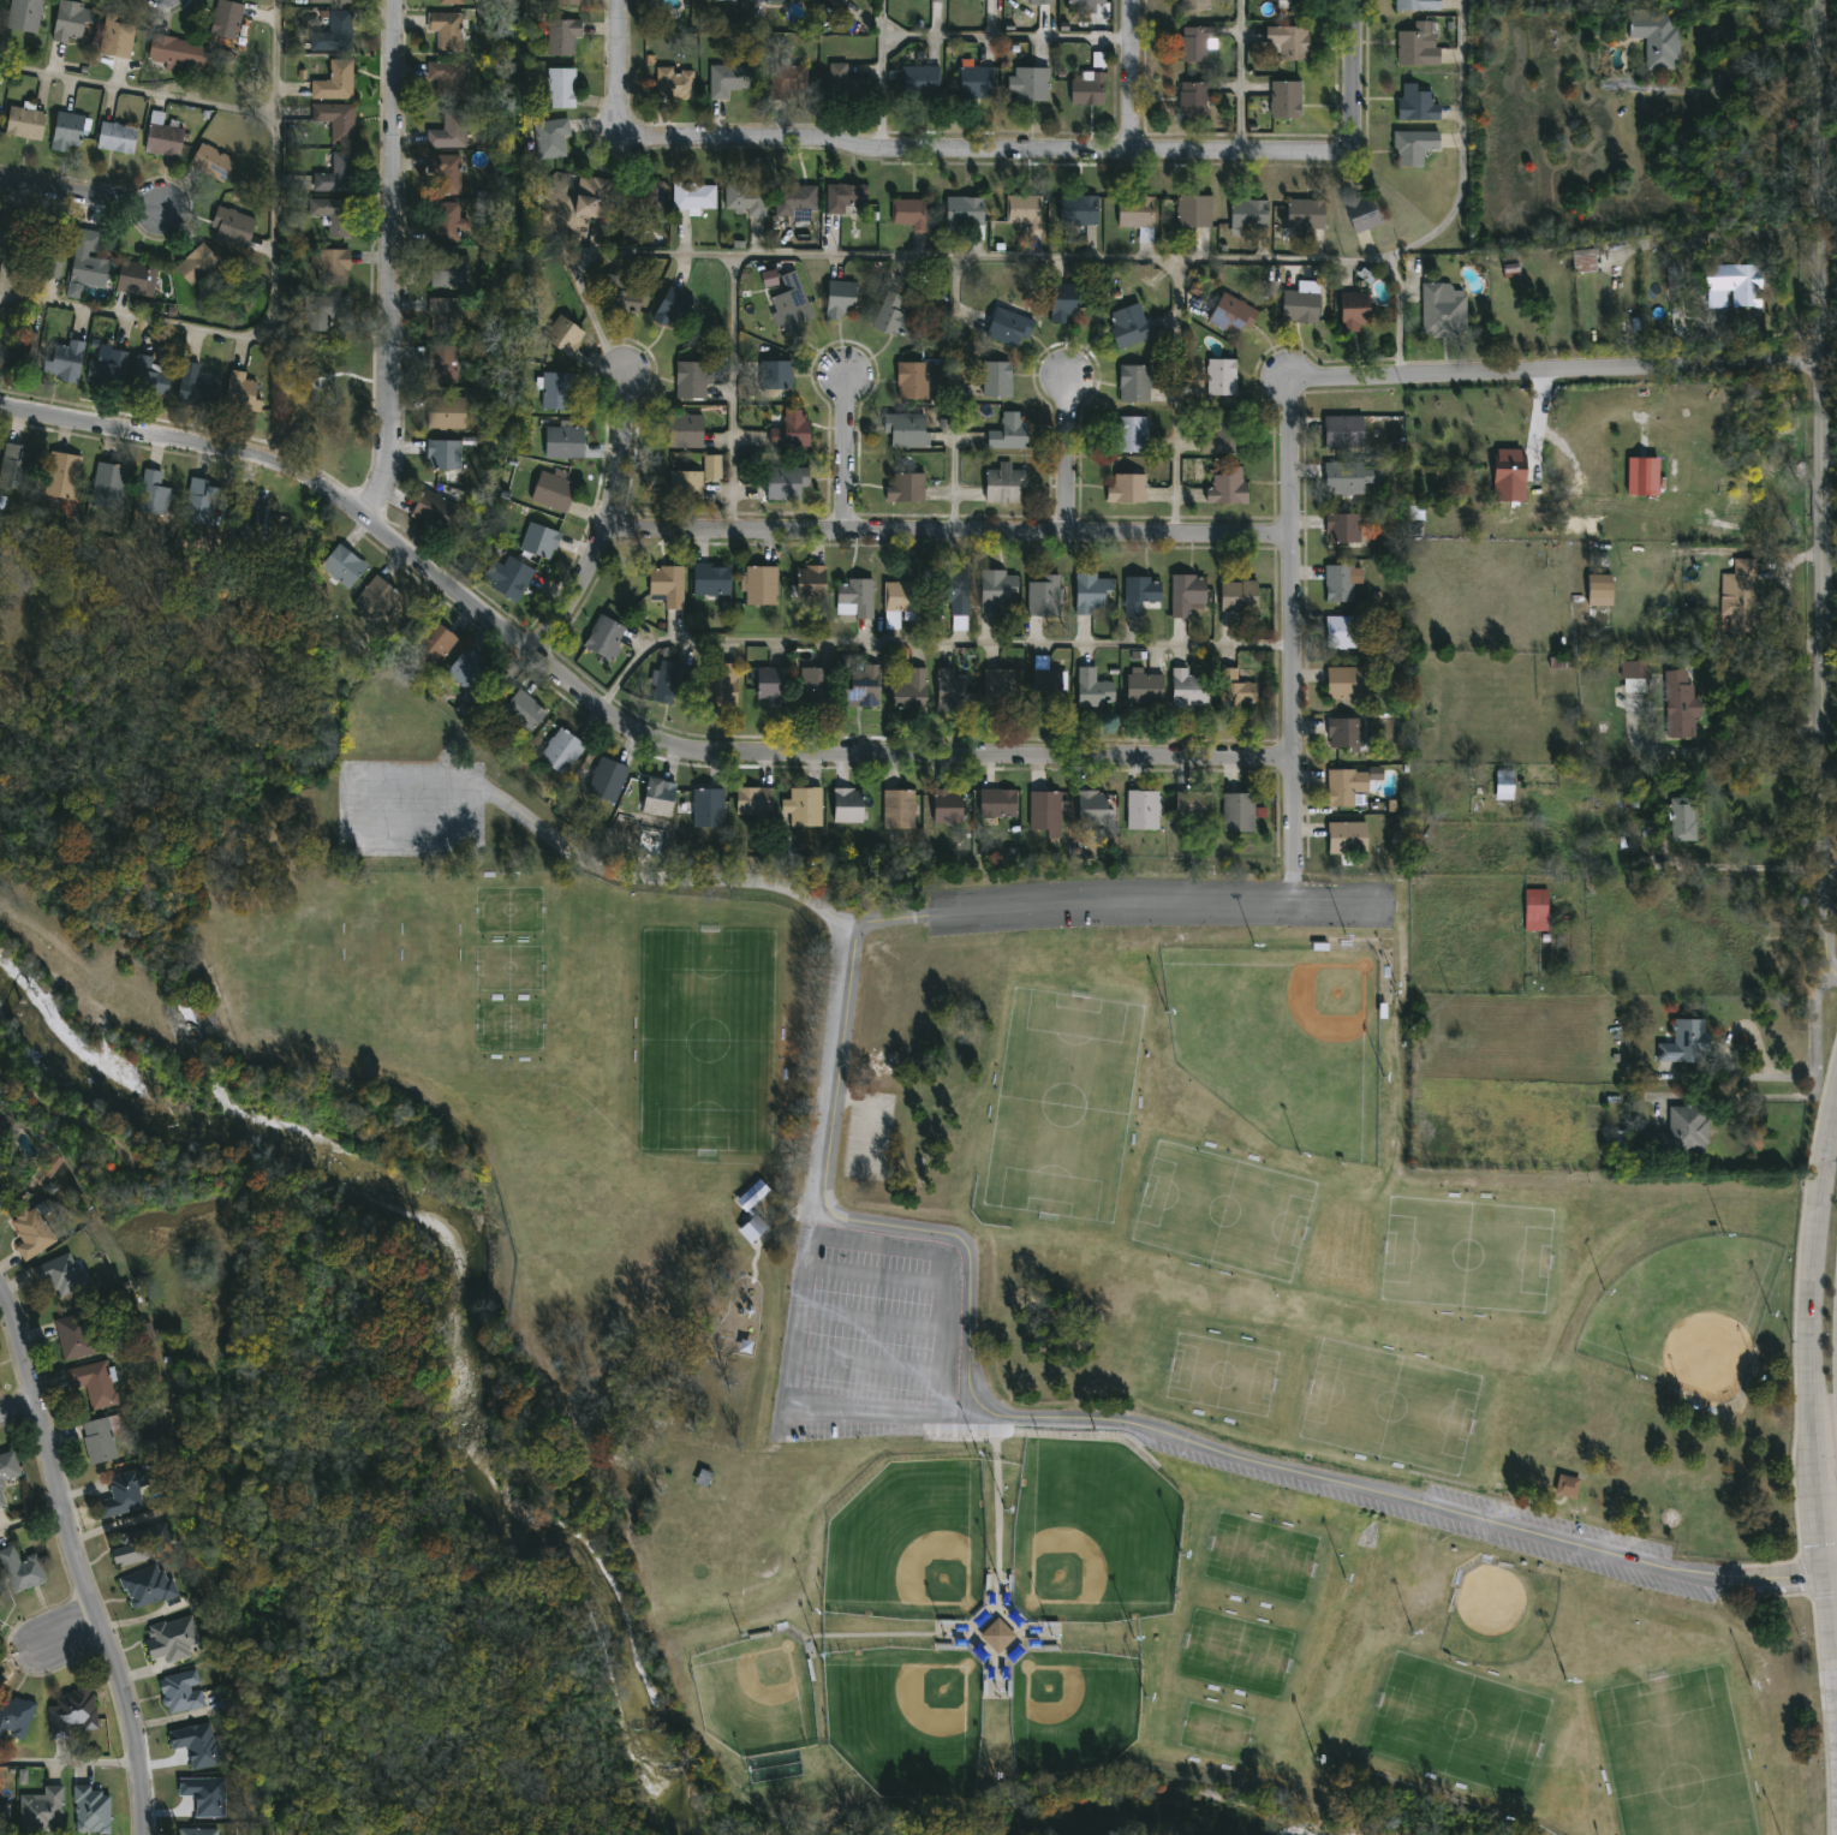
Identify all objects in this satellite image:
building: (328, 0)
building: (1086, 0)
building: (1283, 0)
building: (449, 1)
building: (568, 1)
building: (762, 1)
building: (936, 1)
building: (1037, 1)
building: (835, 2)
building: (1194, 5)
building: (1416, 5)
building: (23, 14)
building: (226, 18)
building: (73, 22)
building: (446, 30)
building: (334, 32)
building: (119, 35)
building: (562, 36)
road: (1004, 37)
building: (1656, 37)
building: (1288, 40)
building: (1194, 41)
building: (1416, 44)
building: (178, 50)
road: (273, 55)
road: (620, 55)
road: (1355, 72)
road: (1726, 72)
building: (447, 77)
building: (788, 77)
road: (1129, 77)
building: (727, 78)
building: (920, 78)
road: (881, 79)
road: (1240, 79)
building: (334, 81)
building: (675, 81)
building: (976, 81)
building: (843, 82)
building: (1028, 82)
building: (560, 85)
building: (1087, 87)
building: (1286, 97)
building: (1193, 99)
building: (1415, 102)
building: (336, 119)
building: (24, 121)
building: (448, 130)
building: (67, 131)
building: (117, 136)
building: (553, 137)
building: (163, 138)
building: (1412, 144)
road: (980, 159)
building: (211, 161)
building: (336, 172)
building: (445, 173)
building: (694, 195)
building: (595, 196)
building: (845, 196)
building: (746, 197)
building: (794, 197)
road: (80, 198)
building: (643, 198)
building: (1078, 208)
building: (965, 209)
building: (1024, 209)
building: (1193, 209)
building: (1135, 210)
building: (1360, 210)
building: (1248, 211)
building: (1305, 211)
building: (908, 213)
building: (333, 214)
road: (274, 216)
building: (443, 221)
building: (234, 225)
building: (6, 233)
road: (1713, 238)
building: (47, 257)
road: (1067, 257)
building: (1582, 258)
road: (394, 262)
building: (197, 263)
building: (332, 266)
building: (89, 269)
building: (449, 269)
building: (136, 276)
building: (1672, 276)
building: (769, 279)
building: (1737, 281)
building: (620, 296)
building: (841, 298)
building: (1064, 303)
building: (1300, 305)
building: (792, 308)
building: (324, 309)
building: (673, 309)
building: (1442, 309)
building: (1354, 310)
building: (443, 312)
building: (1231, 314)
building: (895, 315)
building: (1008, 326)
building: (1128, 327)
building: (563, 333)
building: (19, 352)
building: (64, 361)
building: (442, 362)
building: (108, 369)
road: (1561, 371)
building: (775, 374)
building: (147, 375)
building: (1221, 376)
building: (996, 377)
building: (691, 379)
building: (914, 379)
building: (1134, 383)
building: (195, 387)
building: (556, 389)
building: (241, 391)
road: (733, 392)
road: (954, 393)
road: (1175, 394)
park: (324, 406)
building: (446, 411)
building: (791, 428)
building: (907, 428)
building: (686, 429)
building: (1009, 430)
building: (1343, 430)
building: (1132, 433)
park: (1832, 433)
building: (1222, 435)
building: (563, 440)
building: (443, 453)
road: (845, 453)
road: (1066, 454)
building: (16, 466)
building: (1515, 469)
building: (62, 476)
building: (1349, 477)
building: (1642, 477)
building: (692, 479)
building: (786, 481)
building: (107, 483)
building: (1004, 483)
building: (905, 485)
building: (1228, 485)
building: (1126, 487)
building: (553, 490)
road: (1820, 490)
building: (154, 493)
building: (201, 499)
building: (435, 507)
building: (252, 508)
road: (603, 522)
building: (1342, 526)
road: (948, 529)
building: (538, 540)
building: (344, 566)
building: (512, 577)
building: (711, 578)
building: (1338, 583)
building: (668, 584)
building: (761, 584)
building: (812, 586)
building: (1599, 589)
building: (955, 590)
building: (998, 590)
building: (1140, 592)
building: (1093, 594)
building: (1188, 594)
building: (1044, 595)
building: (1740, 595)
building: (902, 596)
building: (1239, 596)
building: (854, 597)
building: (377, 601)
road: (1293, 627)
building: (1344, 631)
building: (604, 636)
building: (433, 642)
road: (930, 649)
building: (467, 668)
building: (1632, 668)
building: (670, 681)
building: (1045, 681)
building: (1346, 681)
building: (770, 683)
building: (863, 685)
building: (1000, 686)
building: (813, 687)
building: (909, 687)
building: (1093, 687)
building: (1145, 687)
building: (1189, 687)
building: (717, 689)
building: (1236, 689)
building: (953, 691)
building: (1678, 703)
building: (523, 710)
road: (608, 720)
building: (1343, 732)
building: (560, 750)
road: (1755, 757)
building: (607, 779)
building: (1503, 784)
building: (1347, 787)
building: (658, 797)
building: (755, 802)
building: (997, 803)
building: (848, 804)
building: (1194, 804)
parking lot: (412, 805)
building: (803, 805)
building: (948, 805)
building: (708, 806)
building: (1095, 808)
building: (899, 809)
building: (1044, 809)
building: (1143, 809)
building: (1237, 811)
building: (1682, 817)
building: (1347, 836)
road: (1646, 850)
road: (1128, 902)
building: (1534, 907)
road: (894, 918)
park: (433, 939)
park: (375, 940)
park: (310, 945)
road: (1814, 1033)
park: (1282, 1038)
park: (709, 1041)
building: (1684, 1041)
road: (1736, 1077)
road: (1737, 1097)
park: (1064, 1103)
building: (1680, 1130)
building: (1615, 1140)
building: (52, 1166)
building: (752, 1193)
park: (1224, 1210)
building: (752, 1227)
building: (31, 1231)
park: (1467, 1252)
road: (967, 1256)
park: (929, 1271)
building: (60, 1273)
road: (803, 1299)
park: (1688, 1313)
building: (77, 1335)
parking lot: (873, 1335)
road: (889, 1366)
building: (93, 1382)
road: (1813, 1401)
road: (14, 1412)
building: (99, 1438)
building: (8, 1466)
building: (1567, 1487)
building: (121, 1494)
building: (1, 1499)
road: (29, 1513)
road: (1825, 1529)
park: (1092, 1532)
building: (136, 1543)
park: (909, 1543)
park: (1262, 1555)
road: (76, 1562)
building: (20, 1568)
building: (147, 1585)
building: (0, 1599)
building: (997, 1636)
building: (171, 1638)
road: (68, 1640)
park: (1235, 1650)
building: (180, 1690)
park: (756, 1693)
park: (1072, 1709)
building: (71, 1710)
building: (13, 1715)
park: (902, 1721)
park: (1459, 1722)
building: (197, 1745)
park: (1676, 1754)
road: (67, 1762)
building: (205, 1797)
building: (41, 1810)
building: (90, 1810)
building: (4, 1817)
building: (199, 1831)

